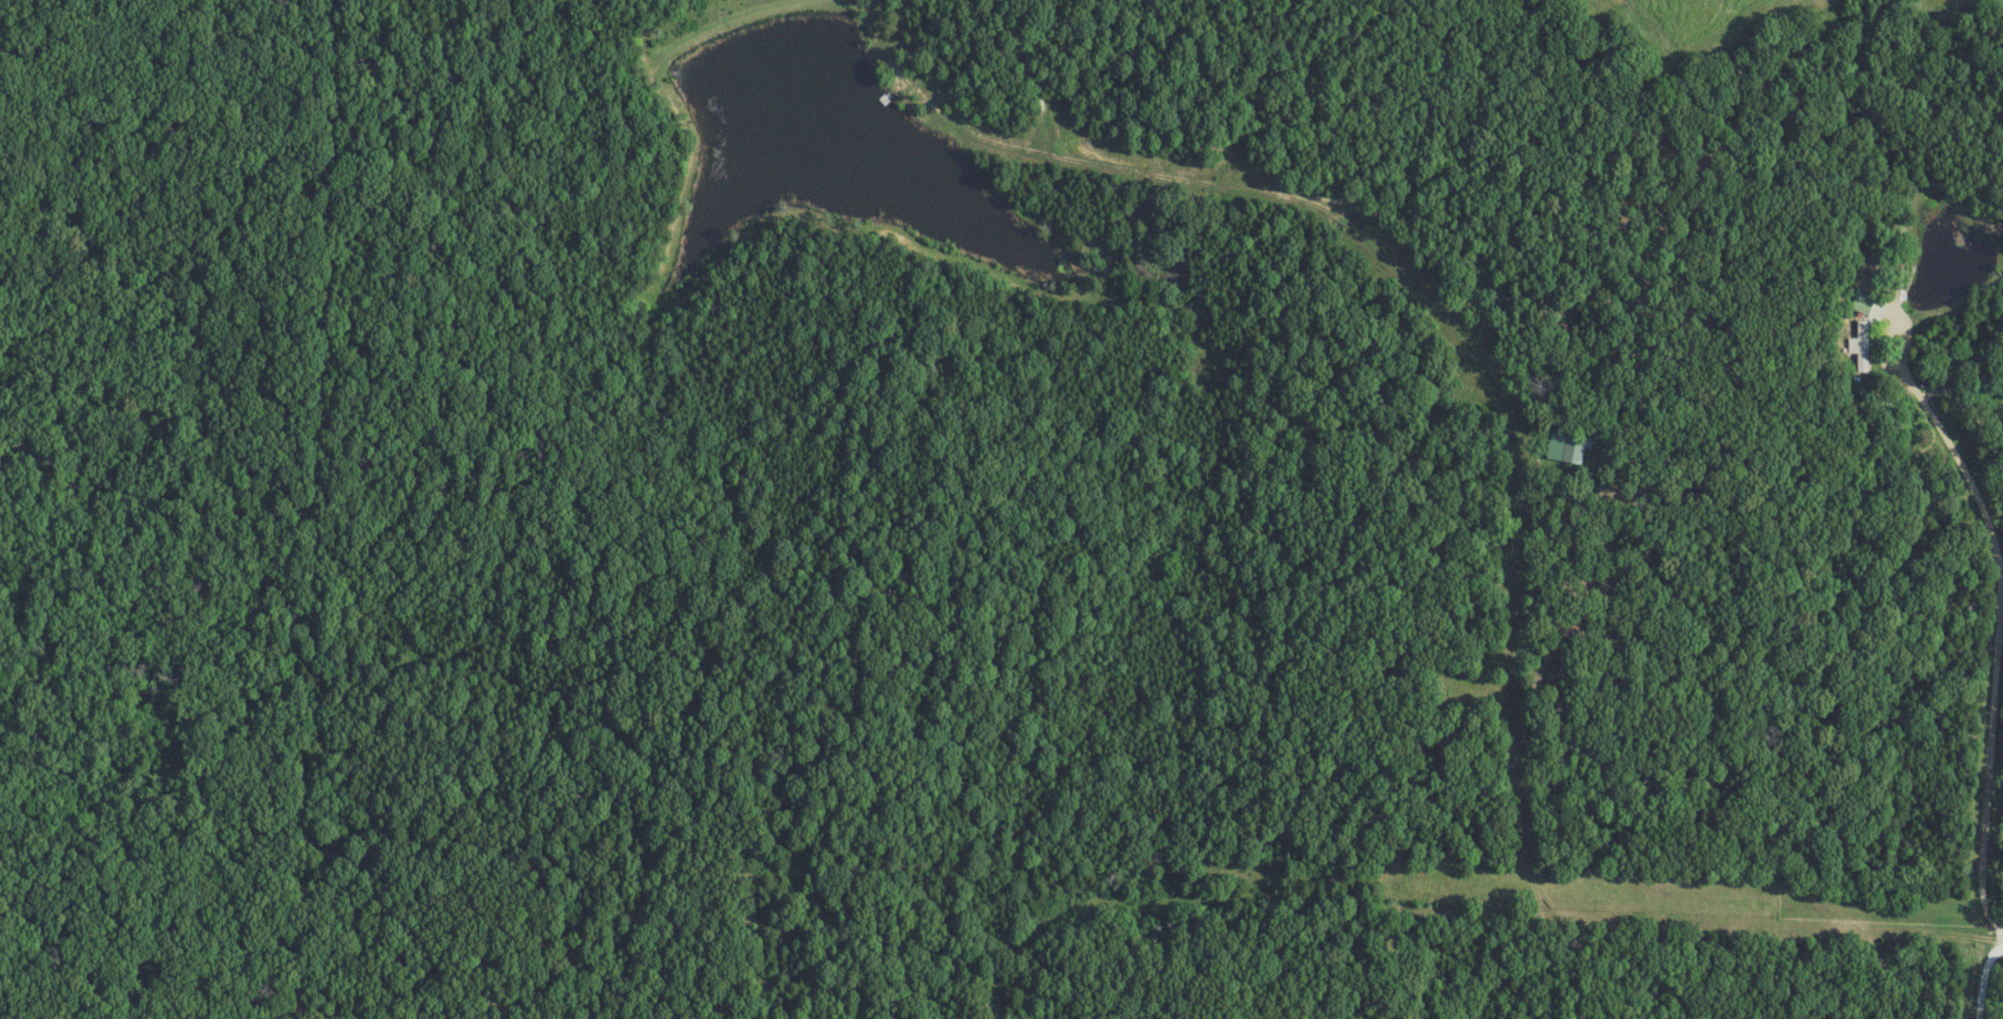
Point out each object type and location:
building: (1862, 300)
building: (1862, 346)
building: (1573, 448)
road: (1999, 607)
road: (2001, 940)
road: (1985, 978)

